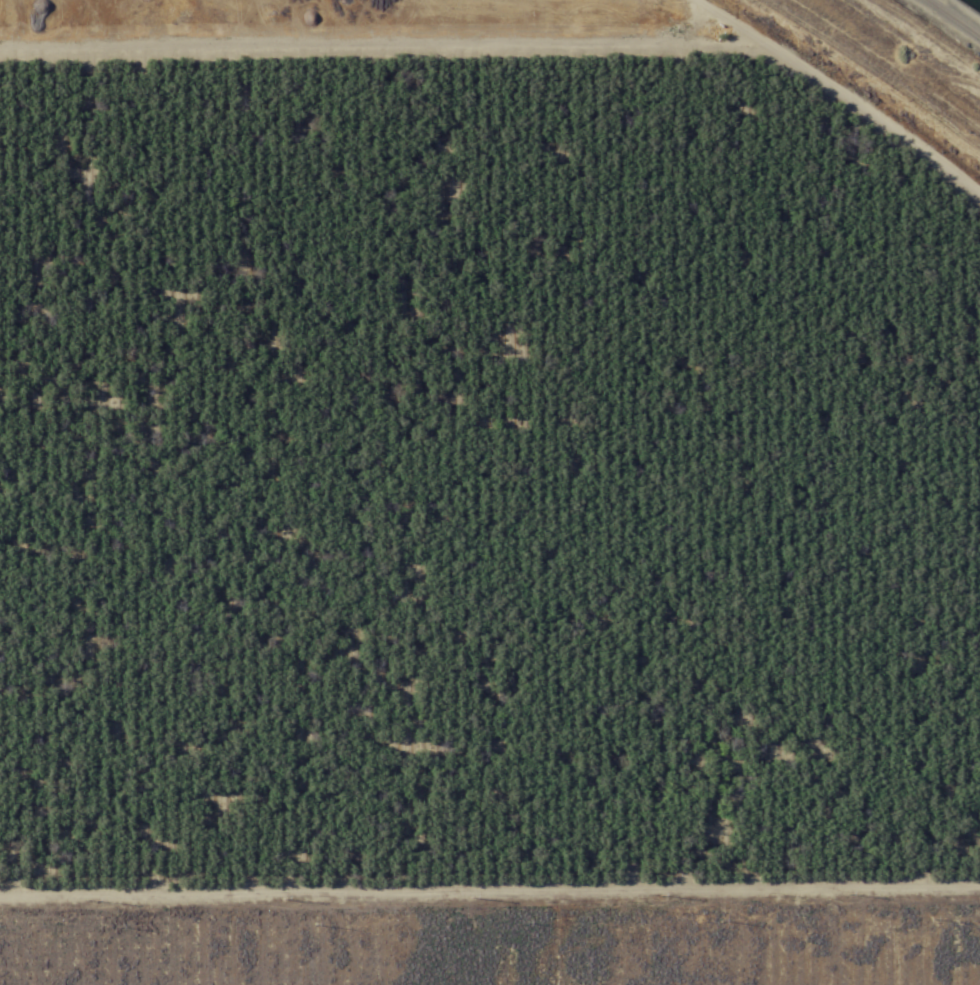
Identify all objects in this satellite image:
road: (952, 18)

